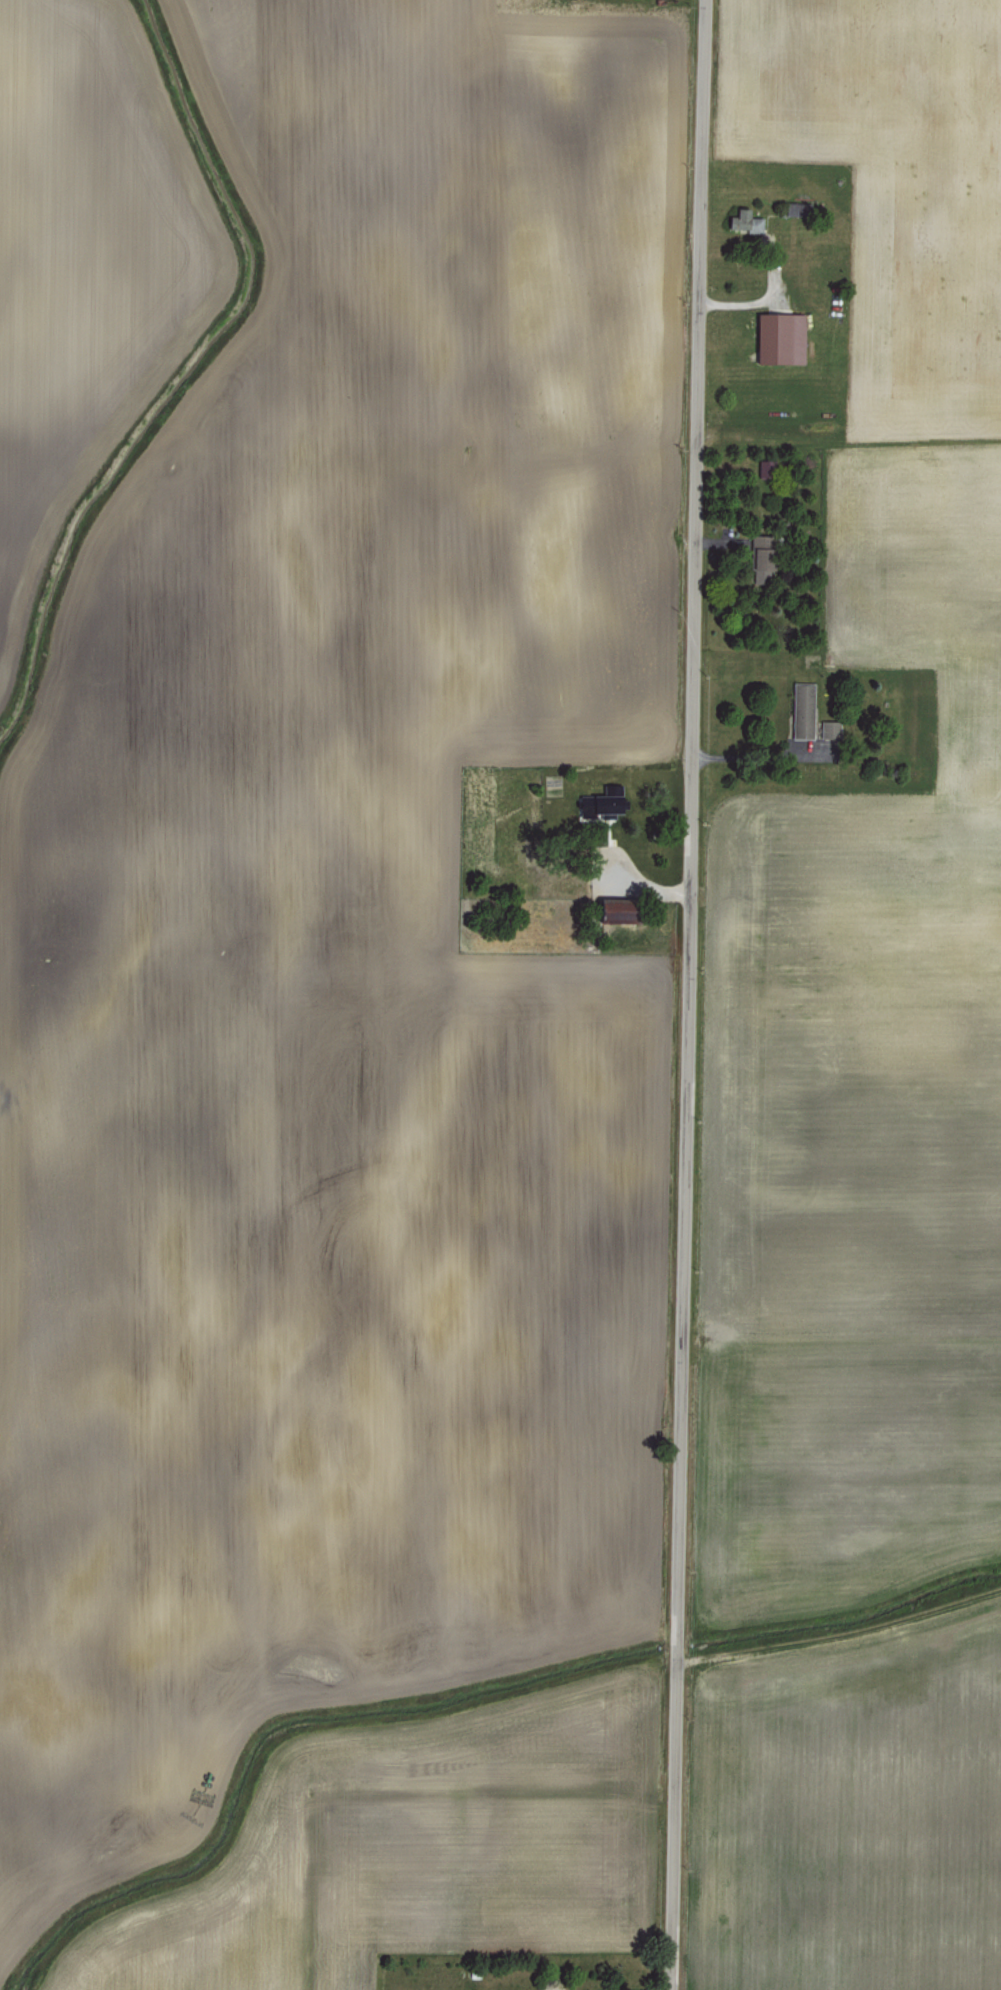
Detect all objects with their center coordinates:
building: (741, 212)
building: (778, 336)
building: (761, 563)
building: (801, 709)
building: (829, 728)
road: (762, 759)
building: (601, 800)
building: (617, 914)
road: (684, 994)

